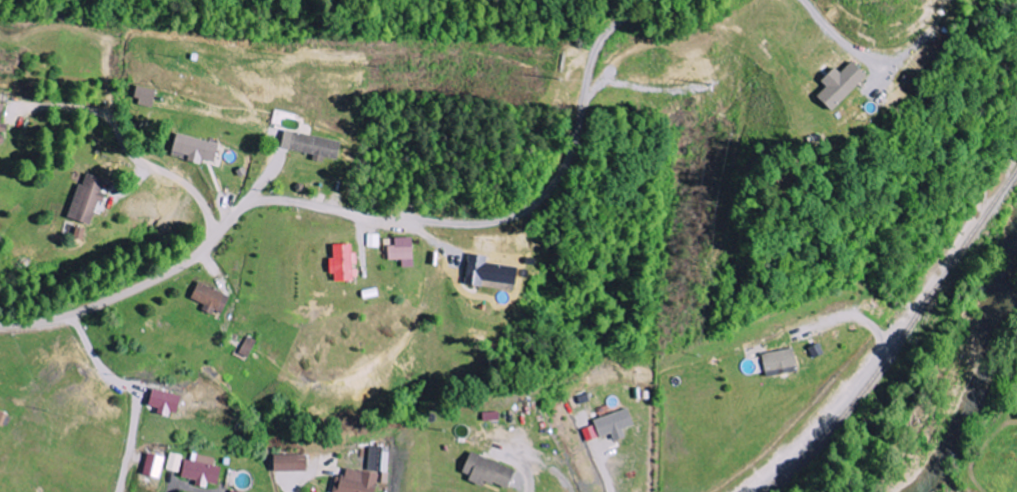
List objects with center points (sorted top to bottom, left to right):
building: (844, 84)
building: (148, 96)
building: (4, 121)
road: (130, 144)
building: (315, 145)
building: (198, 148)
building: (90, 198)
building: (82, 233)
building: (374, 240)
road: (196, 251)
building: (405, 251)
building: (346, 263)
building: (491, 272)
building: (213, 299)
railway: (902, 338)
river: (971, 387)
building: (167, 401)
building: (612, 426)
building: (379, 458)
building: (175, 462)
building: (293, 463)
building: (155, 465)
building: (203, 470)
building: (491, 472)
building: (358, 481)
building: (235, 491)

